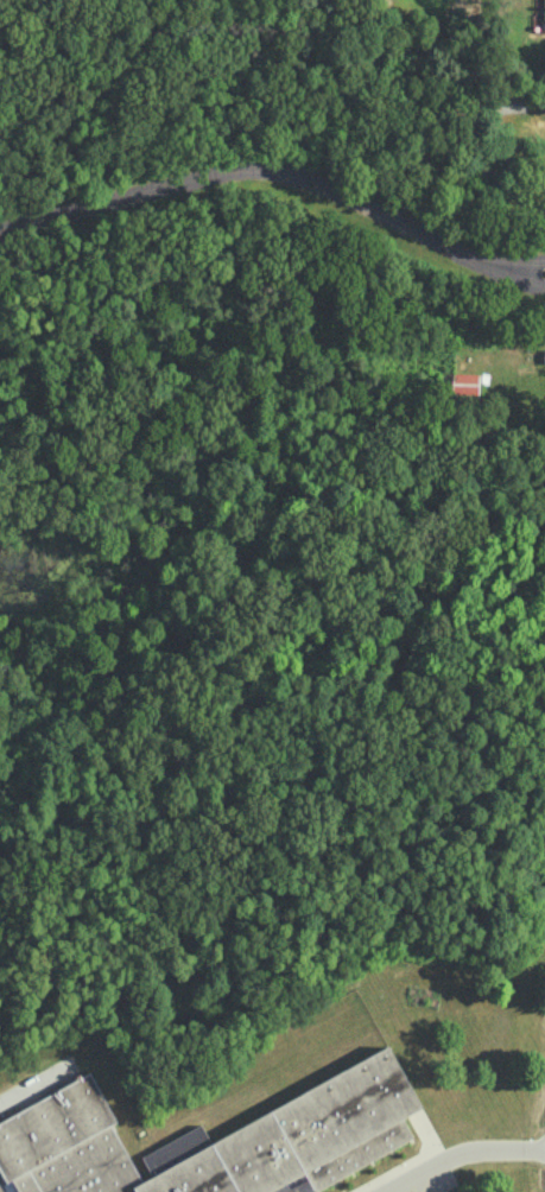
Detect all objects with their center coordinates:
building: (544, 13)
road: (261, 180)
road: (528, 265)
road: (527, 283)
building: (464, 386)
road: (32, 1096)
building: (348, 1117)
road: (462, 1152)

